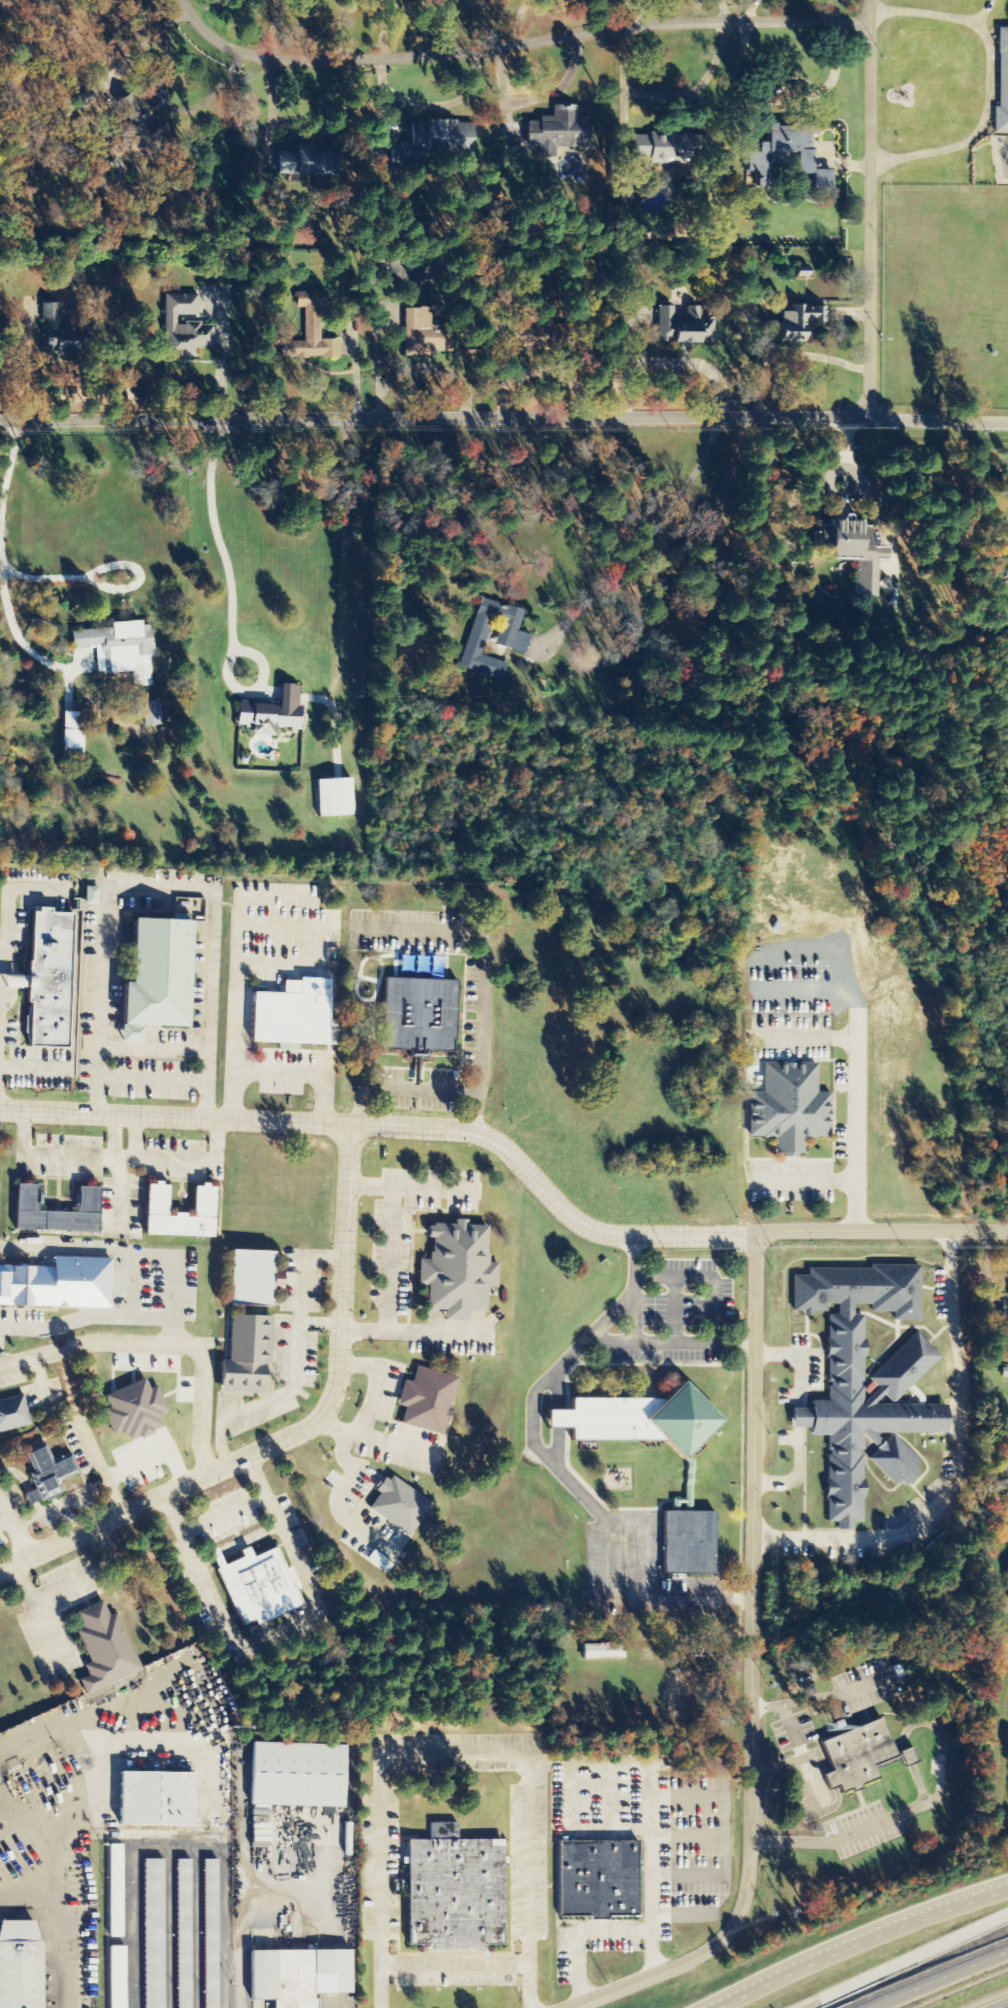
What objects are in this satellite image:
road: (509, 43)
building: (1002, 84)
building: (557, 129)
building: (129, 130)
building: (430, 139)
building: (666, 147)
building: (780, 149)
building: (298, 164)
building: (821, 179)
road: (864, 208)
building: (801, 271)
building: (798, 322)
building: (683, 327)
building: (184, 328)
building: (311, 331)
building: (417, 331)
building: (55, 332)
building: (529, 337)
road: (504, 417)
building: (849, 552)
building: (510, 640)
building: (119, 649)
building: (150, 713)
building: (269, 713)
building: (70, 734)
building: (333, 798)
building: (157, 976)
building: (48, 977)
building: (419, 1013)
building: (290, 1016)
building: (788, 1107)
road: (395, 1130)
building: (154, 1200)
building: (54, 1212)
road: (885, 1226)
building: (456, 1270)
building: (250, 1278)
building: (57, 1285)
building: (1002, 1305)
road: (164, 1344)
building: (244, 1356)
building: (865, 1381)
building: (426, 1400)
building: (133, 1410)
building: (13, 1414)
building: (634, 1419)
road: (82, 1430)
road: (294, 1433)
building: (48, 1472)
building: (29, 1497)
building: (396, 1506)
road: (15, 1528)
building: (686, 1538)
building: (257, 1587)
building: (103, 1648)
building: (700, 1650)
building: (601, 1651)
road: (755, 1664)
building: (854, 1755)
building: (907, 1757)
building: (294, 1775)
building: (152, 1800)
road: (846, 1840)
building: (595, 1880)
building: (114, 1891)
building: (451, 1892)
building: (152, 1934)
building: (183, 1934)
building: (210, 1934)
road: (853, 1940)
road: (906, 1959)
building: (18, 1966)
building: (295, 1976)
building: (116, 1977)
road: (940, 1979)
road: (996, 2003)

